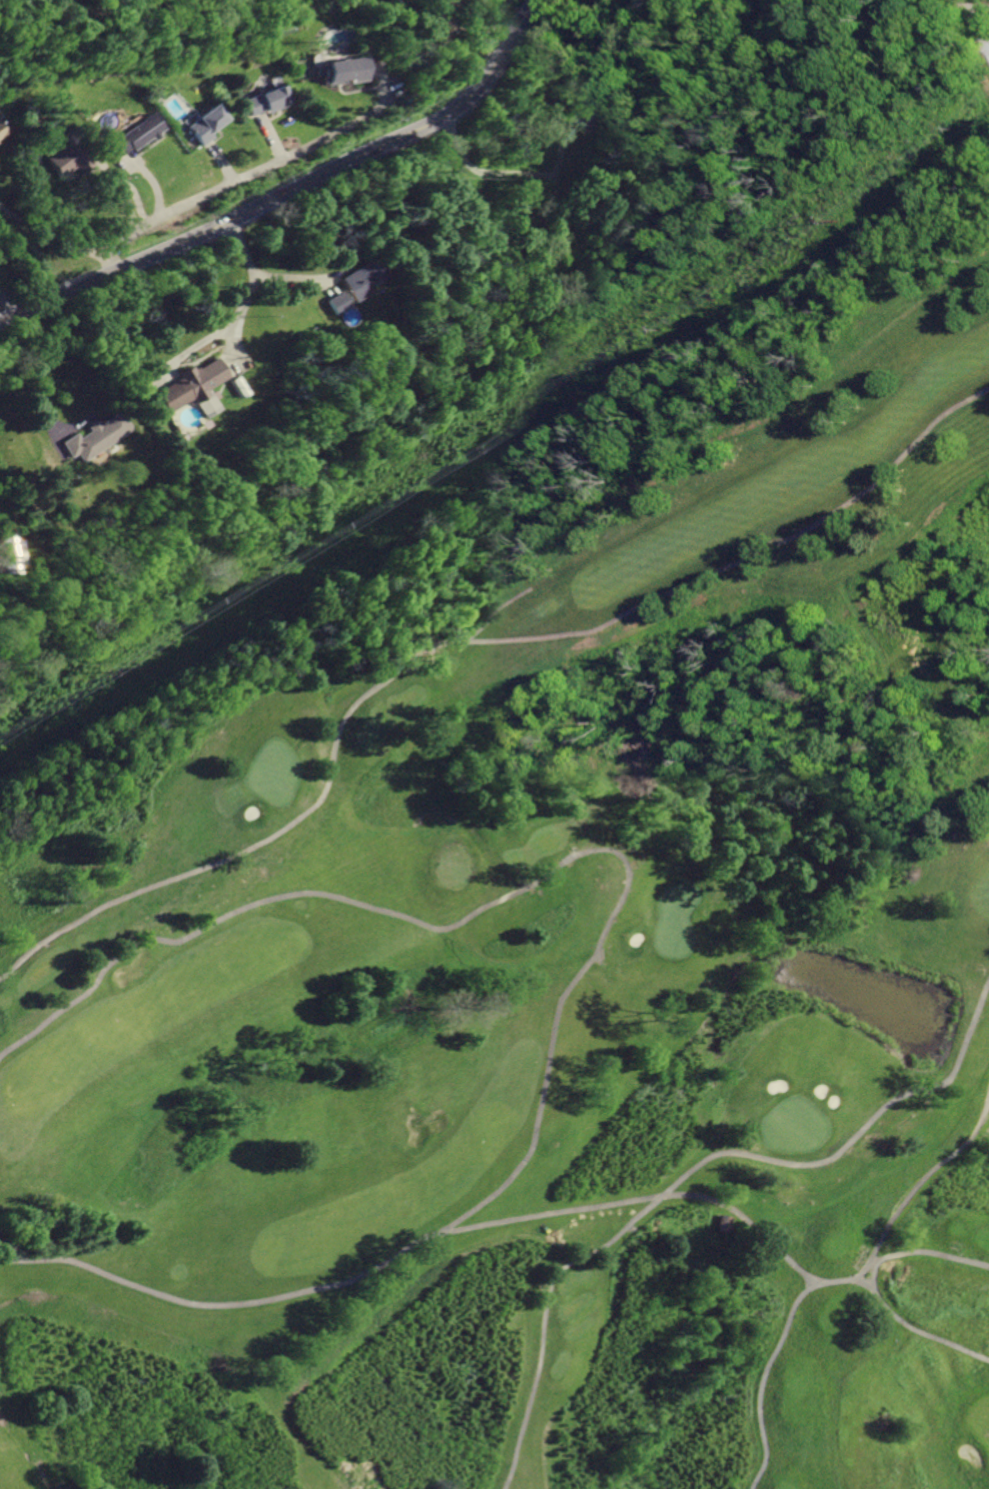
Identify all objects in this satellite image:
road: (972, 11)
building: (339, 69)
building: (263, 100)
building: (576, 106)
building: (202, 123)
building: (0, 132)
building: (131, 134)
building: (66, 155)
road: (512, 170)
road: (239, 180)
road: (294, 192)
road: (54, 234)
road: (242, 252)
building: (356, 279)
building: (333, 302)
road: (11, 303)
road: (231, 315)
building: (191, 387)
building: (95, 435)
building: (15, 552)
road: (463, 642)
road: (512, 894)
park: (673, 924)
park: (542, 947)
park: (793, 1123)
road: (687, 1166)
road: (905, 1193)
building: (720, 1222)
road: (418, 1242)
building: (6, 1245)
road: (865, 1285)
road: (871, 1287)
road: (765, 1376)

